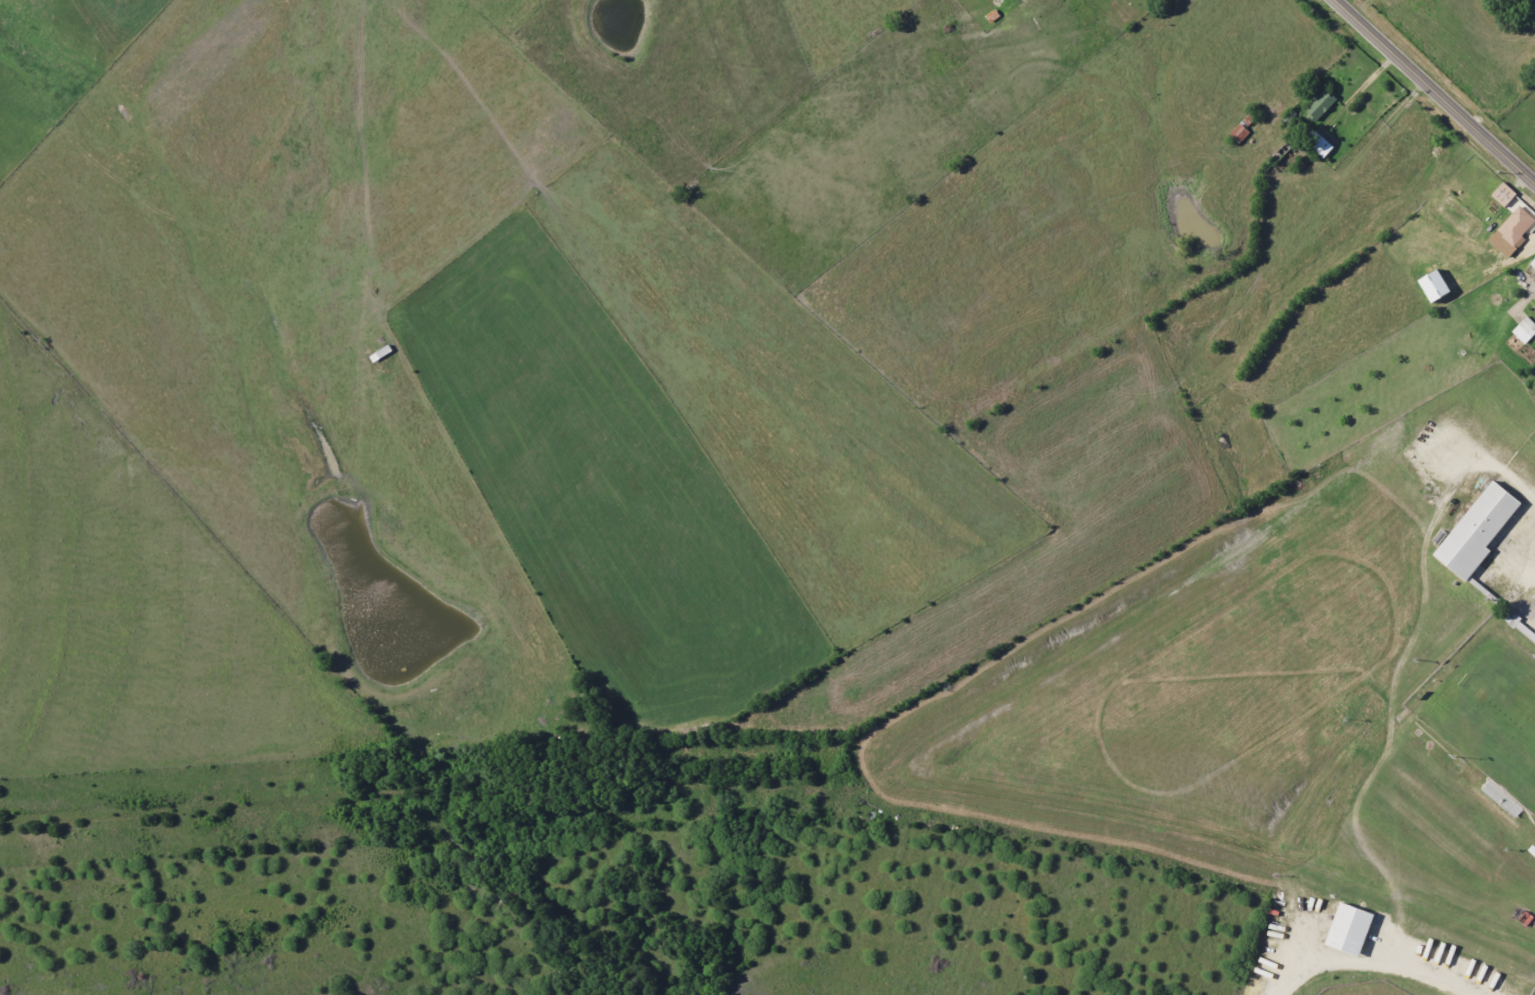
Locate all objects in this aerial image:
road: (1438, 90)
building: (1319, 106)
building: (1317, 145)
road: (1319, 163)
building: (1501, 195)
building: (1513, 229)
building: (1532, 263)
building: (1533, 309)
building: (1523, 330)
building: (1479, 546)
park: (1493, 713)
building: (1355, 928)
road: (1367, 967)
park: (1363, 990)

